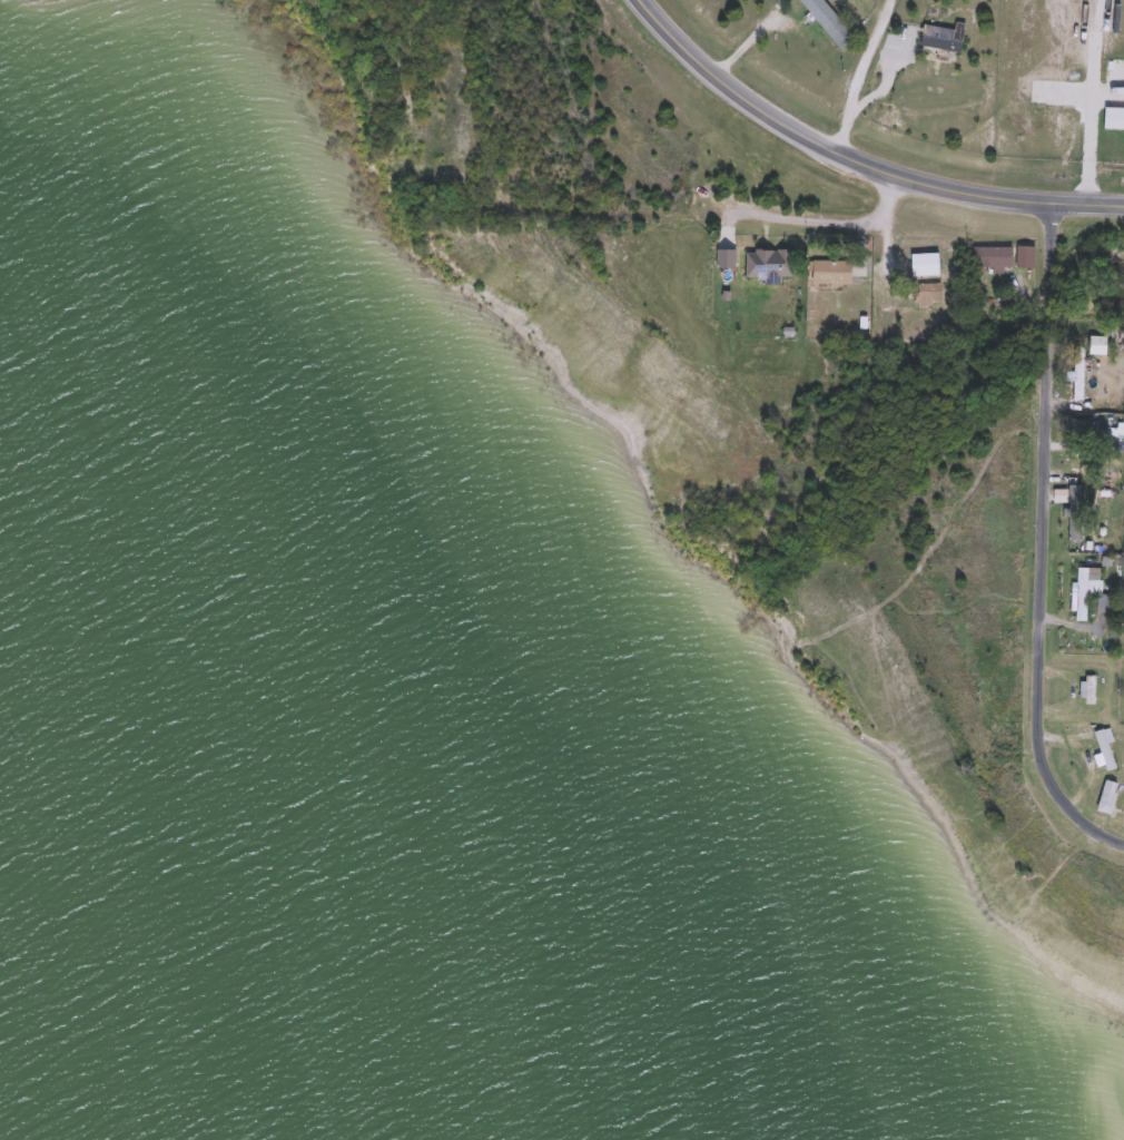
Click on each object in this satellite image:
building: (829, 21)
building: (943, 39)
road: (858, 76)
building: (1114, 119)
road: (1091, 122)
road: (856, 161)
road: (826, 224)
building: (994, 257)
building: (1026, 257)
building: (926, 265)
building: (832, 273)
building: (929, 294)
building: (1079, 373)
building: (1086, 430)
building: (1081, 522)
road: (1041, 542)
building: (1081, 596)
building: (1088, 689)
building: (1106, 749)
building: (1091, 761)
building: (1110, 796)

